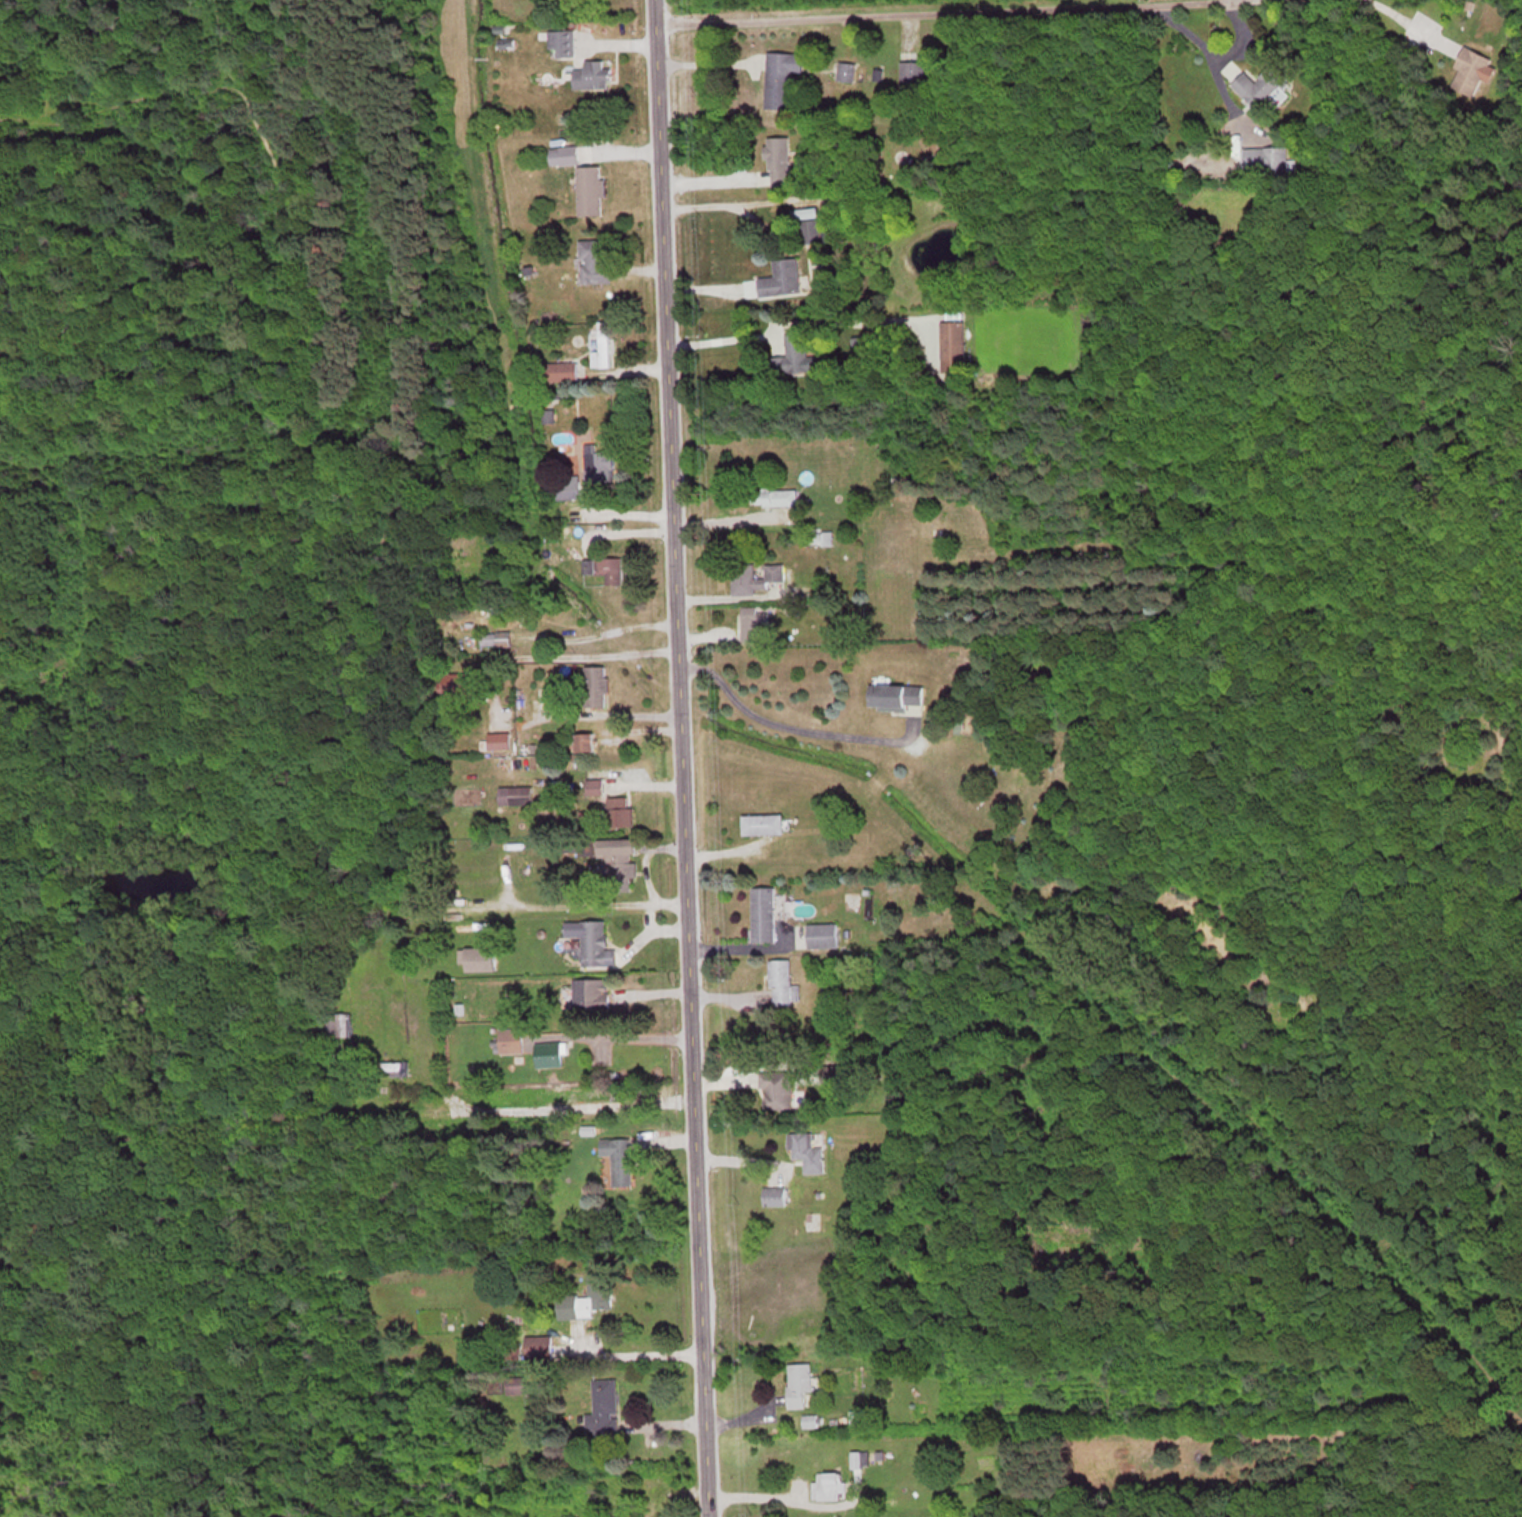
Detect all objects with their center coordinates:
road: (856, 9)
road: (1395, 9)
road: (1244, 35)
road: (1202, 40)
building: (561, 42)
building: (1472, 70)
building: (846, 71)
building: (591, 74)
building: (912, 75)
building: (781, 77)
building: (1262, 85)
building: (562, 154)
building: (778, 160)
building: (1267, 160)
building: (589, 189)
building: (593, 260)
building: (781, 278)
building: (601, 345)
building: (952, 345)
building: (792, 355)
building: (558, 370)
building: (597, 463)
building: (566, 489)
building: (774, 496)
building: (818, 538)
building: (608, 567)
building: (753, 577)
building: (754, 622)
road: (605, 632)
building: (495, 638)
building: (455, 681)
building: (595, 685)
road: (497, 690)
building: (895, 693)
road: (781, 726)
building: (498, 740)
building: (583, 741)
road: (679, 758)
building: (594, 786)
building: (515, 795)
building: (617, 811)
building: (762, 823)
building: (618, 856)
building: (762, 913)
building: (821, 934)
building: (591, 941)
building: (476, 958)
building: (782, 983)
building: (589, 992)
building: (547, 1053)
building: (776, 1089)
building: (807, 1150)
building: (618, 1159)
building: (773, 1196)
building: (589, 1299)
road: (643, 1351)
building: (519, 1384)
building: (798, 1384)
building: (603, 1409)
building: (857, 1416)
building: (828, 1484)

